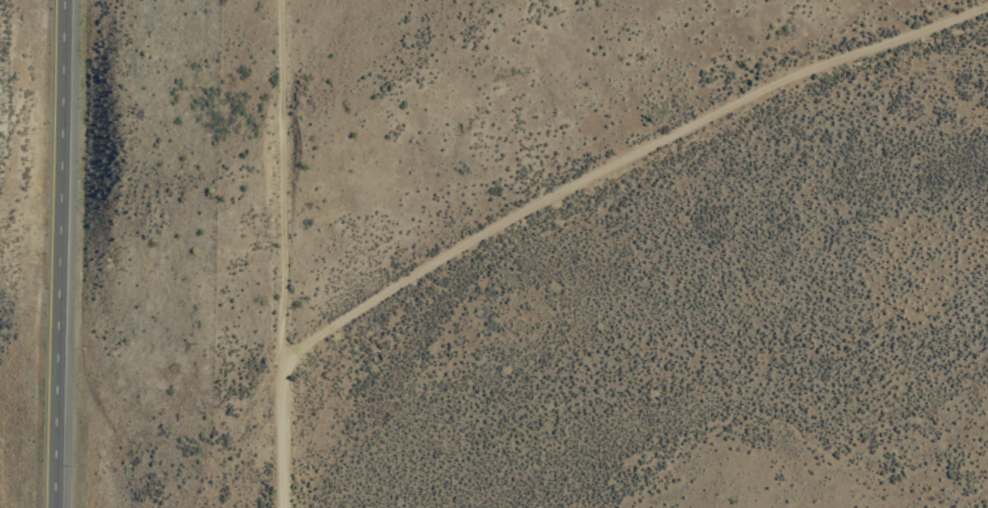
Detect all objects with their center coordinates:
road: (282, 193)
road: (567, 202)
road: (58, 254)
crop: (578, 329)

